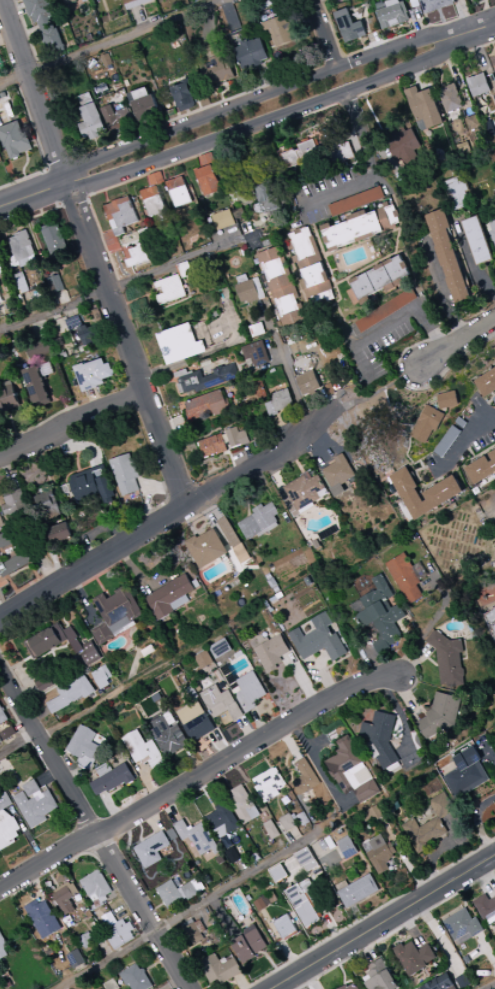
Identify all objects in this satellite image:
road: (312, 0)
building: (455, 1)
building: (138, 3)
building: (437, 5)
building: (363, 8)
road: (16, 10)
road: (487, 12)
building: (395, 15)
road: (464, 15)
road: (231, 17)
road: (442, 17)
road: (141, 21)
building: (45, 22)
road: (326, 22)
road: (418, 24)
road: (208, 27)
building: (351, 27)
road: (420, 28)
road: (475, 29)
building: (280, 31)
road: (27, 32)
road: (323, 33)
road: (28, 36)
road: (6, 37)
building: (238, 38)
road: (117, 44)
road: (364, 48)
building: (251, 54)
building: (291, 54)
building: (107, 60)
road: (483, 61)
road: (470, 64)
building: (216, 66)
building: (494, 69)
road: (456, 74)
road: (260, 77)
road: (419, 77)
road: (441, 77)
building: (478, 85)
road: (33, 90)
road: (227, 90)
building: (141, 94)
building: (186, 95)
road: (256, 97)
building: (451, 98)
building: (494, 98)
building: (86, 99)
road: (230, 99)
building: (425, 107)
building: (145, 108)
road: (372, 112)
building: (111, 115)
building: (125, 117)
road: (356, 117)
building: (92, 121)
road: (266, 121)
building: (474, 122)
road: (148, 130)
road: (248, 136)
building: (15, 139)
building: (403, 145)
road: (40, 148)
road: (355, 148)
building: (304, 149)
building: (342, 153)
building: (208, 159)
road: (164, 174)
building: (157, 179)
road: (149, 180)
building: (210, 180)
building: (177, 183)
road: (351, 188)
road: (51, 189)
building: (151, 192)
building: (456, 192)
road: (33, 194)
road: (107, 196)
building: (182, 196)
building: (270, 196)
road: (88, 197)
road: (72, 202)
building: (356, 202)
road: (38, 204)
building: (156, 205)
road: (13, 213)
building: (240, 213)
building: (122, 214)
road: (28, 218)
building: (224, 219)
road: (44, 220)
building: (214, 221)
road: (110, 226)
road: (18, 227)
building: (47, 227)
building: (353, 230)
building: (491, 232)
building: (479, 239)
building: (56, 240)
building: (112, 241)
road: (395, 243)
building: (22, 245)
building: (303, 248)
building: (129, 253)
building: (138, 255)
building: (449, 255)
building: (32, 259)
building: (0, 262)
building: (12, 262)
building: (24, 262)
road: (472, 262)
building: (0, 264)
building: (184, 269)
building: (398, 269)
building: (1, 271)
building: (382, 278)
building: (315, 280)
road: (130, 281)
building: (21, 283)
building: (57, 284)
building: (282, 286)
road: (444, 286)
building: (171, 289)
building: (247, 290)
building: (362, 290)
road: (138, 299)
building: (0, 300)
road: (477, 305)
building: (387, 310)
road: (317, 313)
road: (3, 322)
road: (391, 323)
road: (345, 324)
building: (84, 331)
road: (456, 341)
road: (126, 343)
building: (183, 344)
building: (42, 349)
road: (211, 351)
building: (257, 353)
road: (285, 366)
building: (94, 374)
road: (401, 378)
building: (208, 379)
road: (167, 381)
building: (309, 383)
building: (486, 383)
building: (37, 385)
road: (157, 389)
building: (330, 389)
road: (380, 389)
building: (260, 390)
building: (8, 395)
building: (282, 399)
building: (494, 399)
road: (94, 400)
building: (448, 400)
road: (62, 402)
building: (210, 405)
road: (182, 409)
building: (272, 409)
road: (46, 419)
road: (70, 419)
road: (11, 421)
building: (461, 423)
building: (426, 424)
road: (172, 427)
road: (283, 431)
building: (237, 437)
building: (445, 441)
road: (461, 442)
road: (77, 445)
building: (213, 445)
road: (321, 446)
road: (1, 448)
road: (77, 458)
road: (245, 460)
road: (296, 460)
road: (5, 465)
building: (481, 469)
building: (339, 471)
building: (126, 474)
road: (274, 474)
road: (47, 475)
road: (65, 479)
building: (86, 484)
road: (158, 487)
road: (0, 488)
building: (306, 490)
building: (338, 490)
building: (425, 493)
building: (288, 501)
building: (16, 502)
building: (47, 503)
road: (163, 503)
road: (147, 507)
building: (257, 508)
building: (308, 508)
road: (489, 508)
road: (170, 514)
road: (214, 519)
road: (7, 520)
building: (259, 521)
building: (1, 522)
building: (2, 528)
building: (269, 529)
road: (95, 532)
building: (230, 532)
building: (328, 533)
building: (58, 535)
building: (10, 538)
building: (317, 545)
building: (207, 548)
building: (242, 554)
building: (1, 560)
building: (18, 563)
road: (57, 565)
building: (3, 568)
road: (47, 569)
building: (419, 570)
road: (96, 576)
road: (138, 576)
building: (269, 577)
building: (405, 577)
building: (367, 578)
building: (273, 583)
road: (99, 584)
building: (277, 589)
building: (377, 593)
road: (395, 595)
building: (169, 596)
road: (83, 599)
building: (180, 602)
road: (388, 604)
building: (119, 607)
building: (357, 607)
road: (1, 614)
building: (383, 621)
road: (432, 621)
building: (490, 622)
building: (113, 631)
building: (71, 634)
building: (262, 639)
building: (318, 639)
building: (47, 640)
building: (77, 646)
building: (220, 648)
road: (72, 651)
building: (148, 651)
building: (272, 652)
building: (91, 654)
building: (204, 659)
road: (37, 660)
building: (449, 660)
road: (55, 661)
road: (367, 661)
building: (110, 668)
road: (133, 669)
building: (237, 671)
road: (53, 673)
building: (103, 677)
road: (324, 678)
road: (300, 679)
building: (44, 682)
road: (133, 682)
road: (29, 685)
road: (19, 686)
building: (198, 688)
road: (177, 691)
building: (191, 691)
building: (250, 691)
building: (72, 693)
building: (221, 702)
road: (183, 707)
building: (196, 708)
road: (14, 713)
building: (167, 713)
road: (39, 714)
building: (3, 715)
building: (441, 716)
road: (258, 722)
building: (199, 726)
road: (246, 730)
building: (9, 733)
building: (381, 736)
building: (170, 738)
building: (1, 740)
road: (18, 742)
building: (84, 742)
road: (219, 745)
building: (141, 746)
road: (193, 760)
building: (157, 761)
building: (86, 762)
road: (145, 768)
building: (104, 769)
building: (351, 771)
building: (465, 774)
road: (75, 775)
road: (197, 775)
road: (49, 776)
building: (118, 777)
building: (304, 778)
road: (146, 782)
building: (268, 785)
building: (99, 786)
building: (32, 787)
building: (44, 789)
building: (318, 792)
building: (38, 793)
building: (243, 804)
building: (440, 806)
building: (37, 807)
road: (112, 807)
building: (374, 816)
building: (222, 821)
building: (7, 823)
road: (61, 827)
road: (94, 830)
building: (271, 830)
building: (423, 833)
road: (27, 834)
building: (196, 837)
building: (346, 848)
building: (151, 849)
building: (379, 853)
building: (232, 855)
building: (306, 860)
building: (278, 873)
building: (95, 886)
building: (356, 890)
building: (178, 892)
building: (64, 897)
building: (304, 904)
building: (486, 909)
road: (185, 912)
building: (43, 918)
road: (383, 921)
building: (284, 927)
building: (462, 927)
building: (117, 930)
building: (195, 933)
building: (248, 944)
building: (3, 949)
building: (414, 957)
building: (75, 959)
building: (220, 969)
building: (378, 976)
building: (135, 978)
building: (439, 984)
building: (111, 985)
building: (351, 986)
road: (490, 986)

